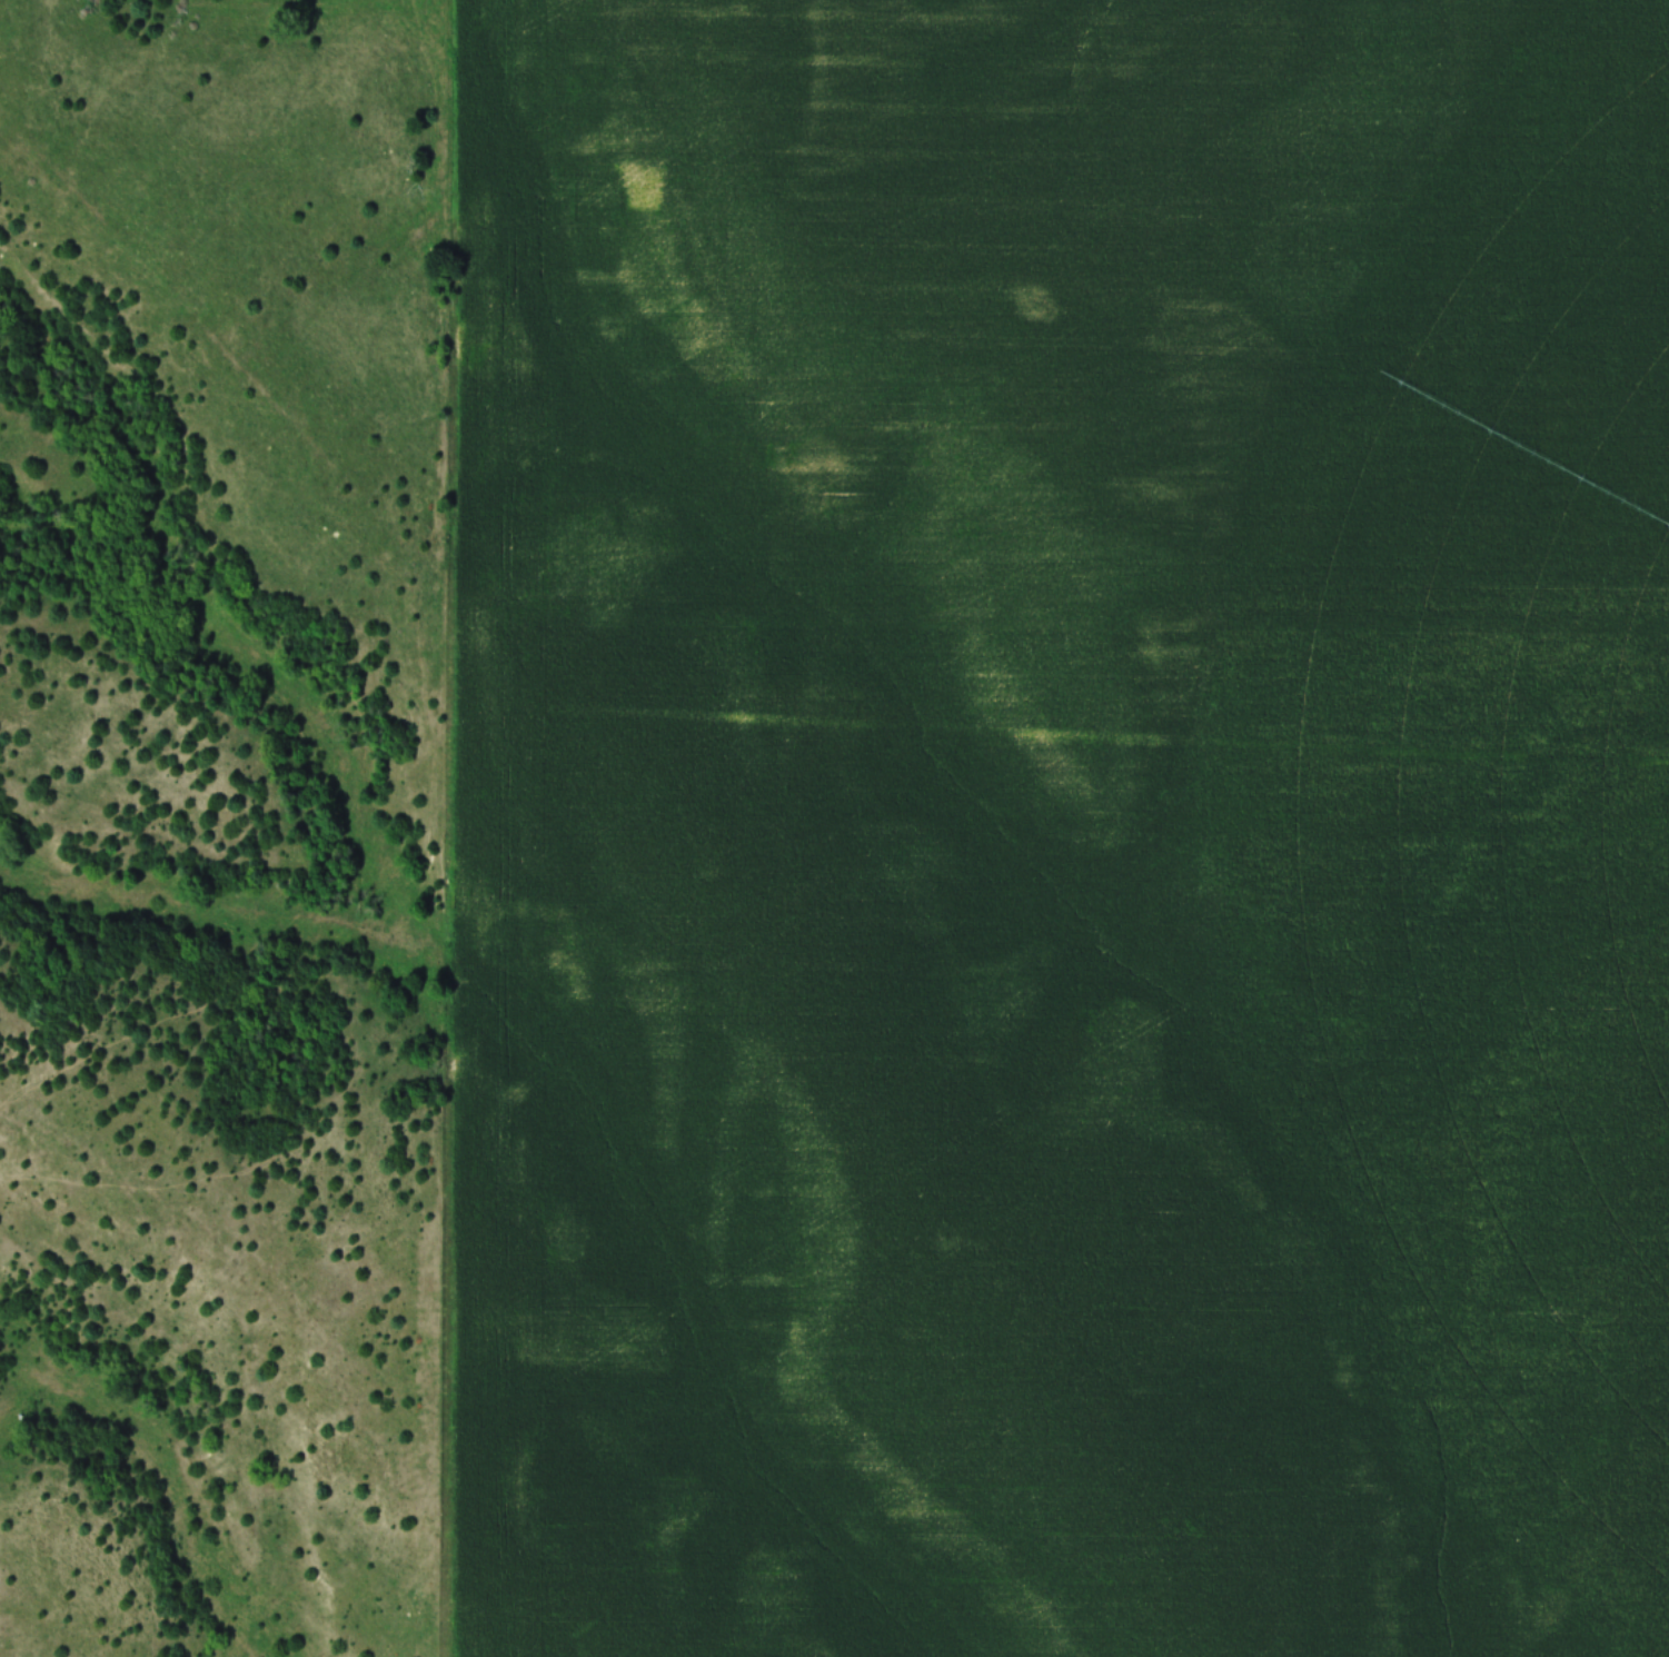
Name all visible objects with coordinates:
road: (1660, 20)

